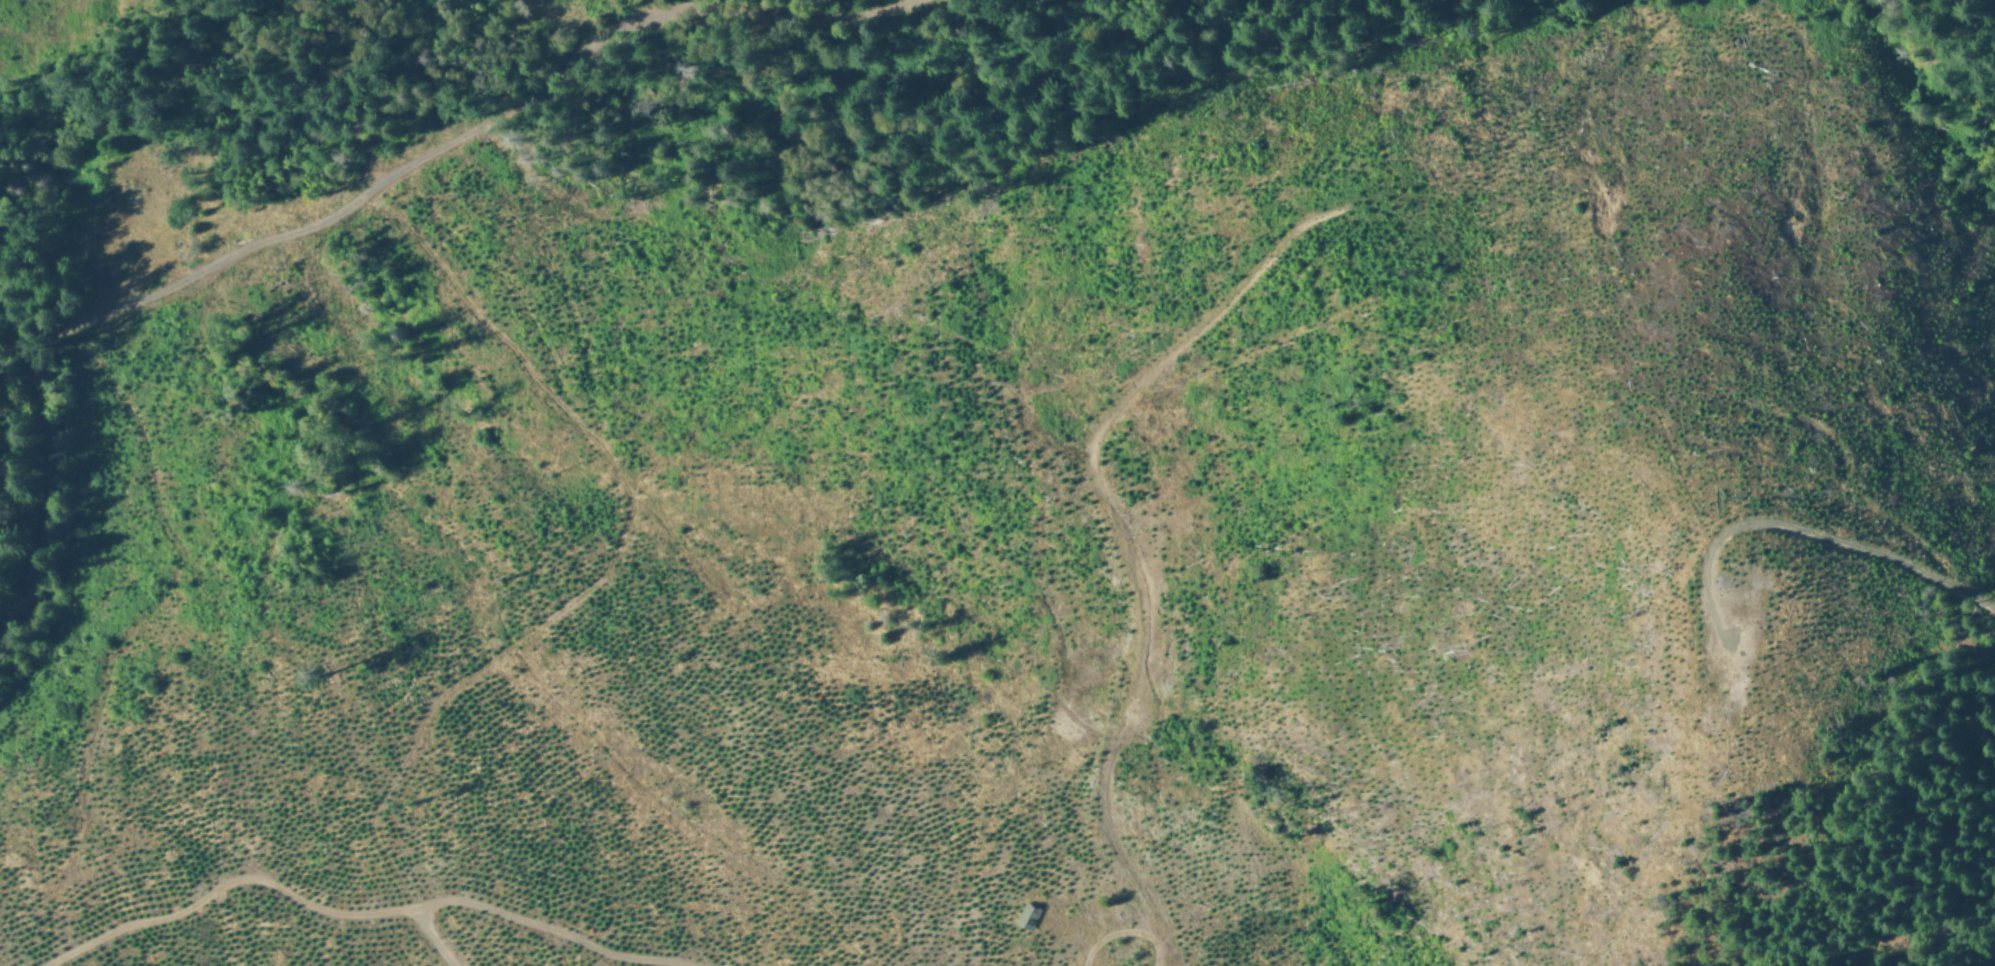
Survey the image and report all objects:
road: (40, 463)

